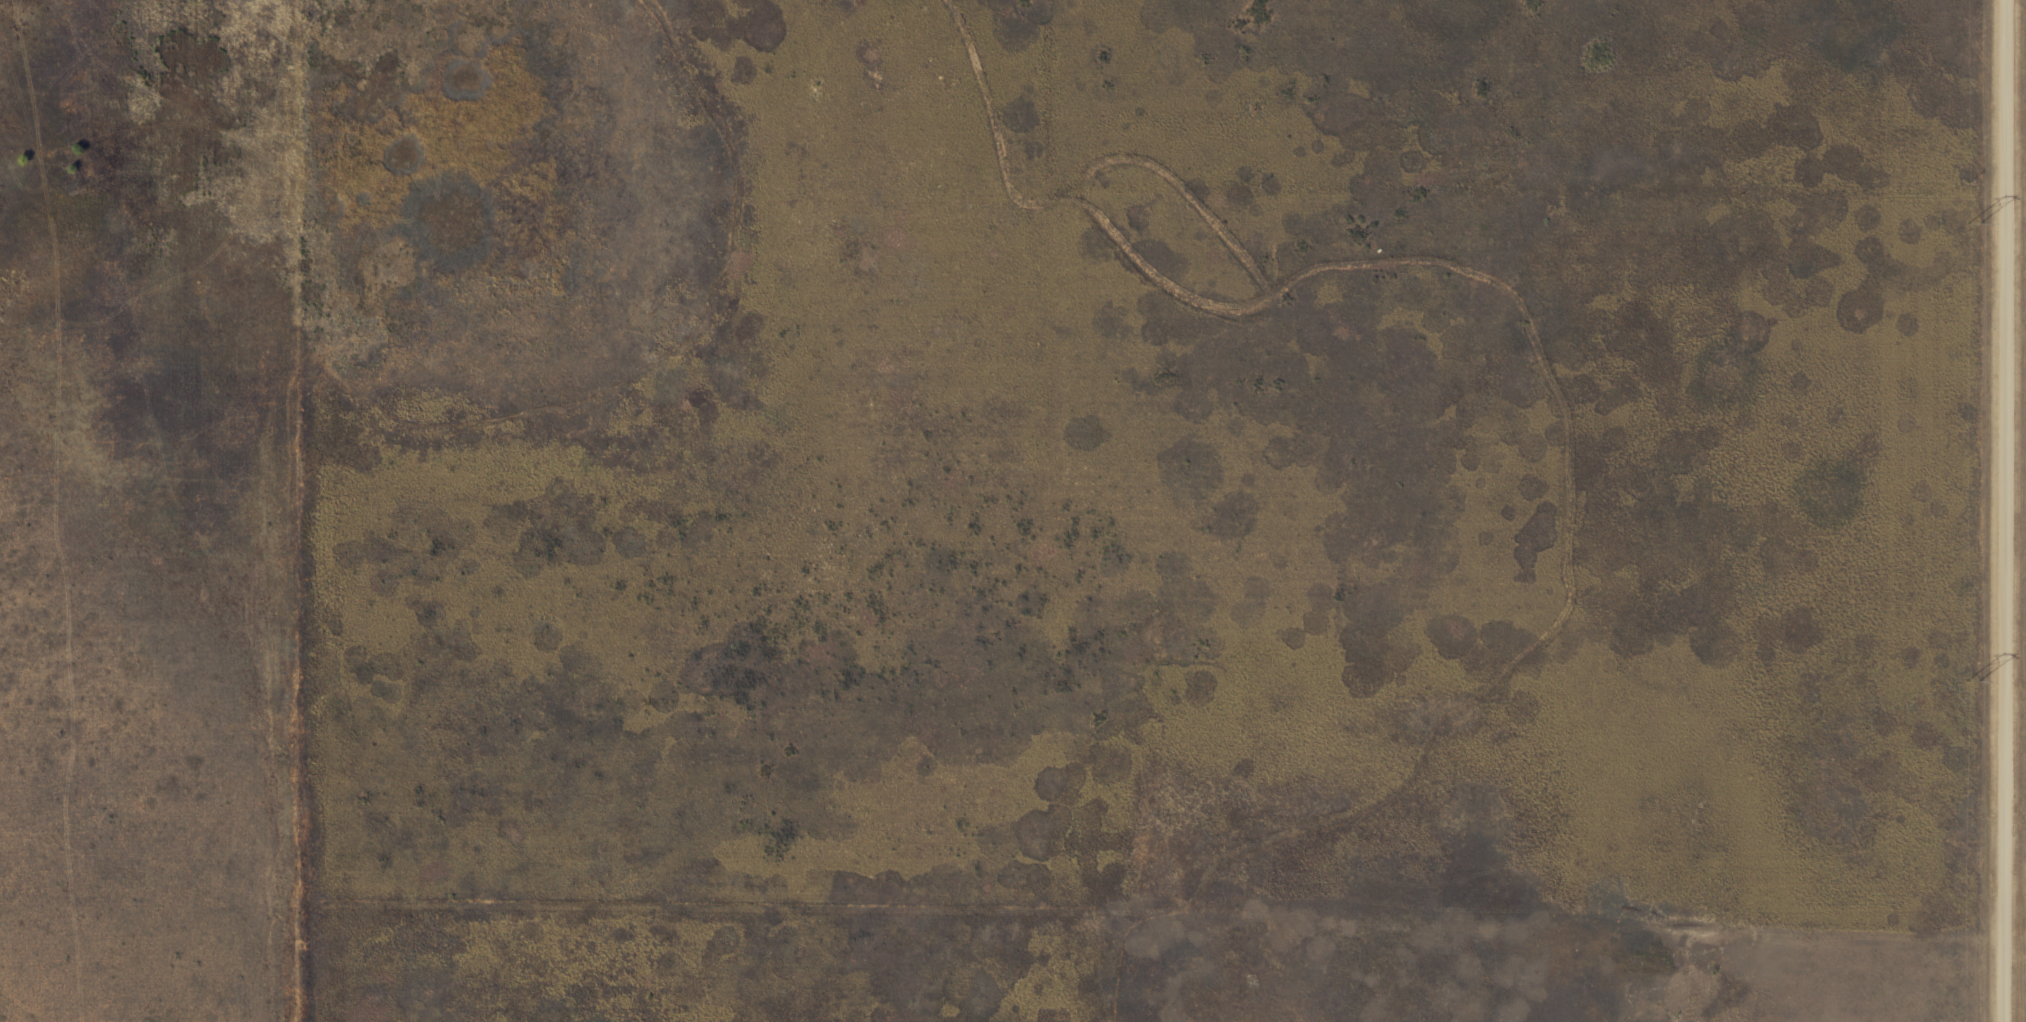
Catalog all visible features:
power tower: (1969, 221)
road: (2025, 510)
power tower: (1969, 682)
road: (1812, 941)

